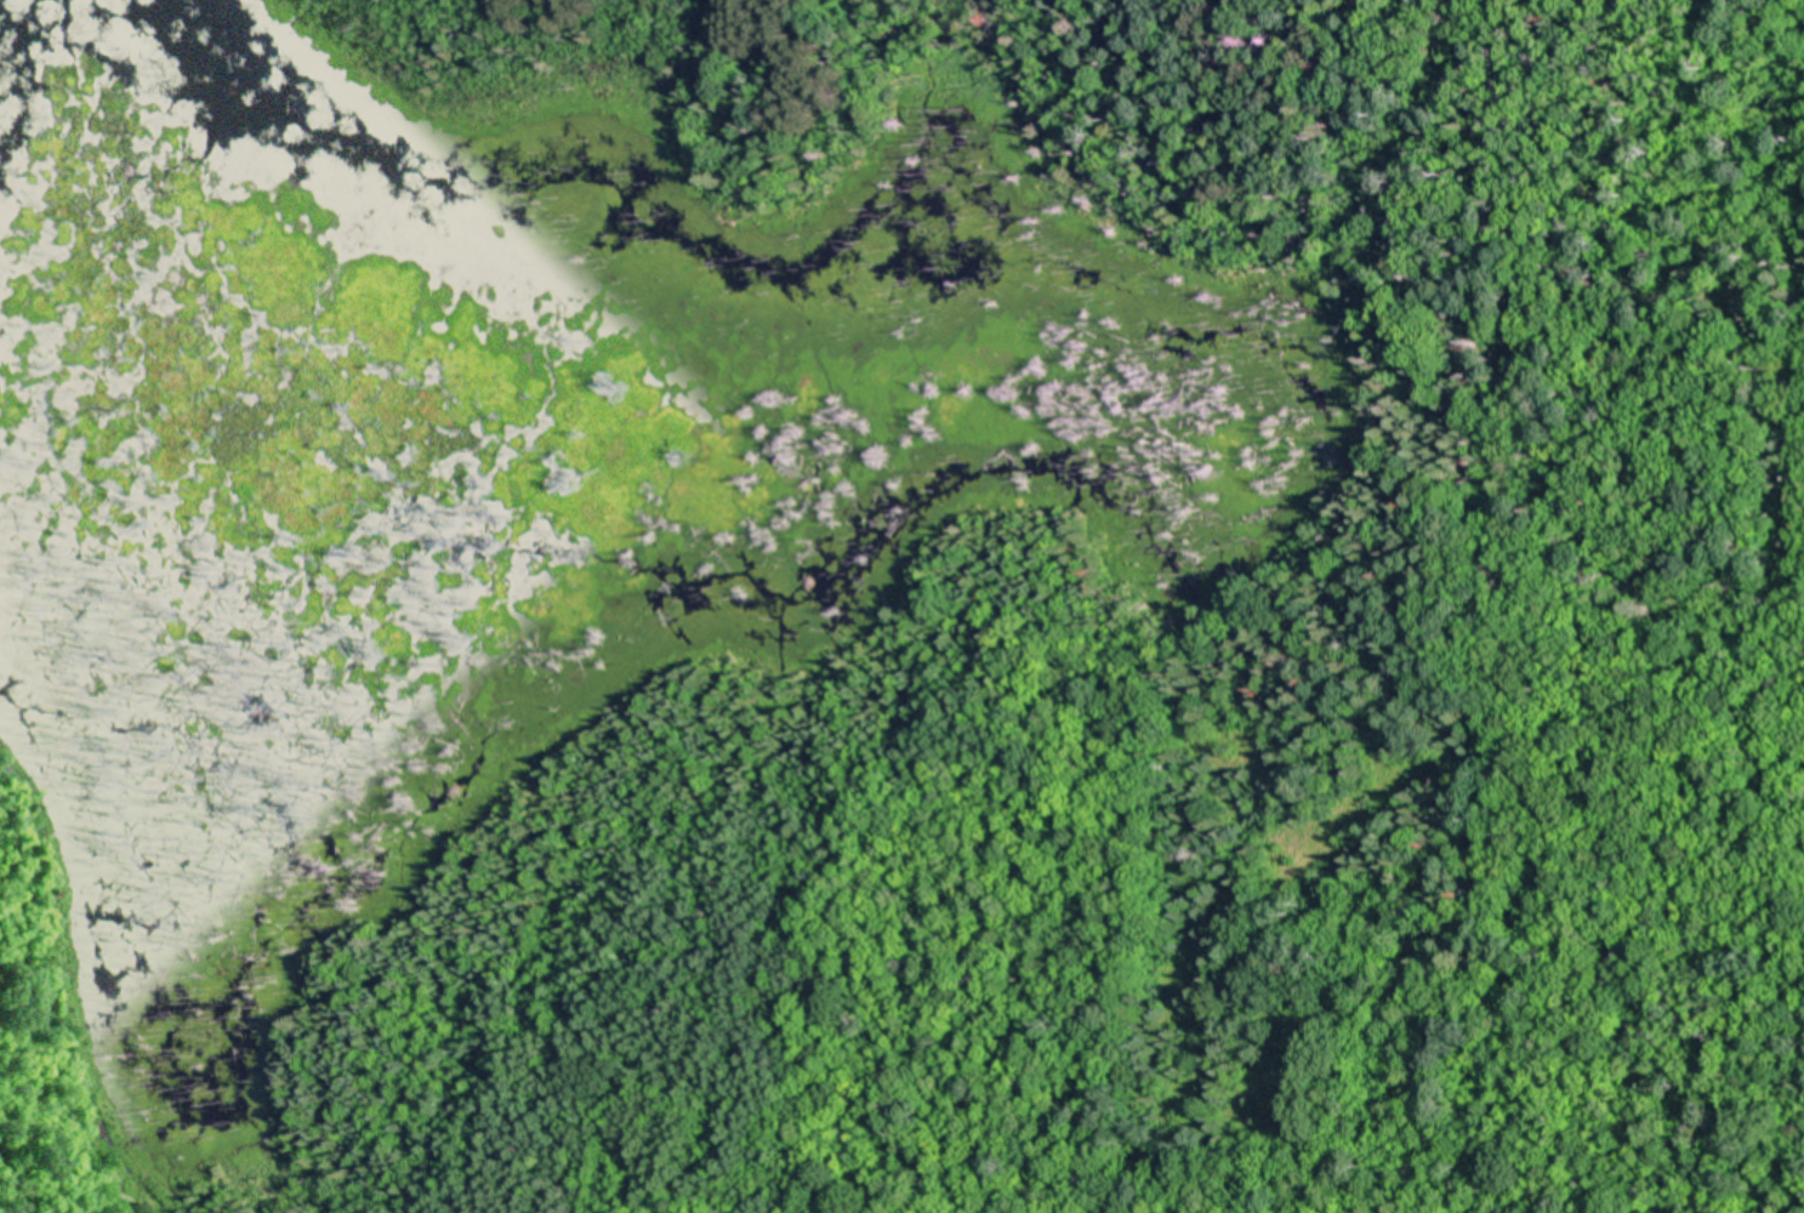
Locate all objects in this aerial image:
road: (0, 1212)

